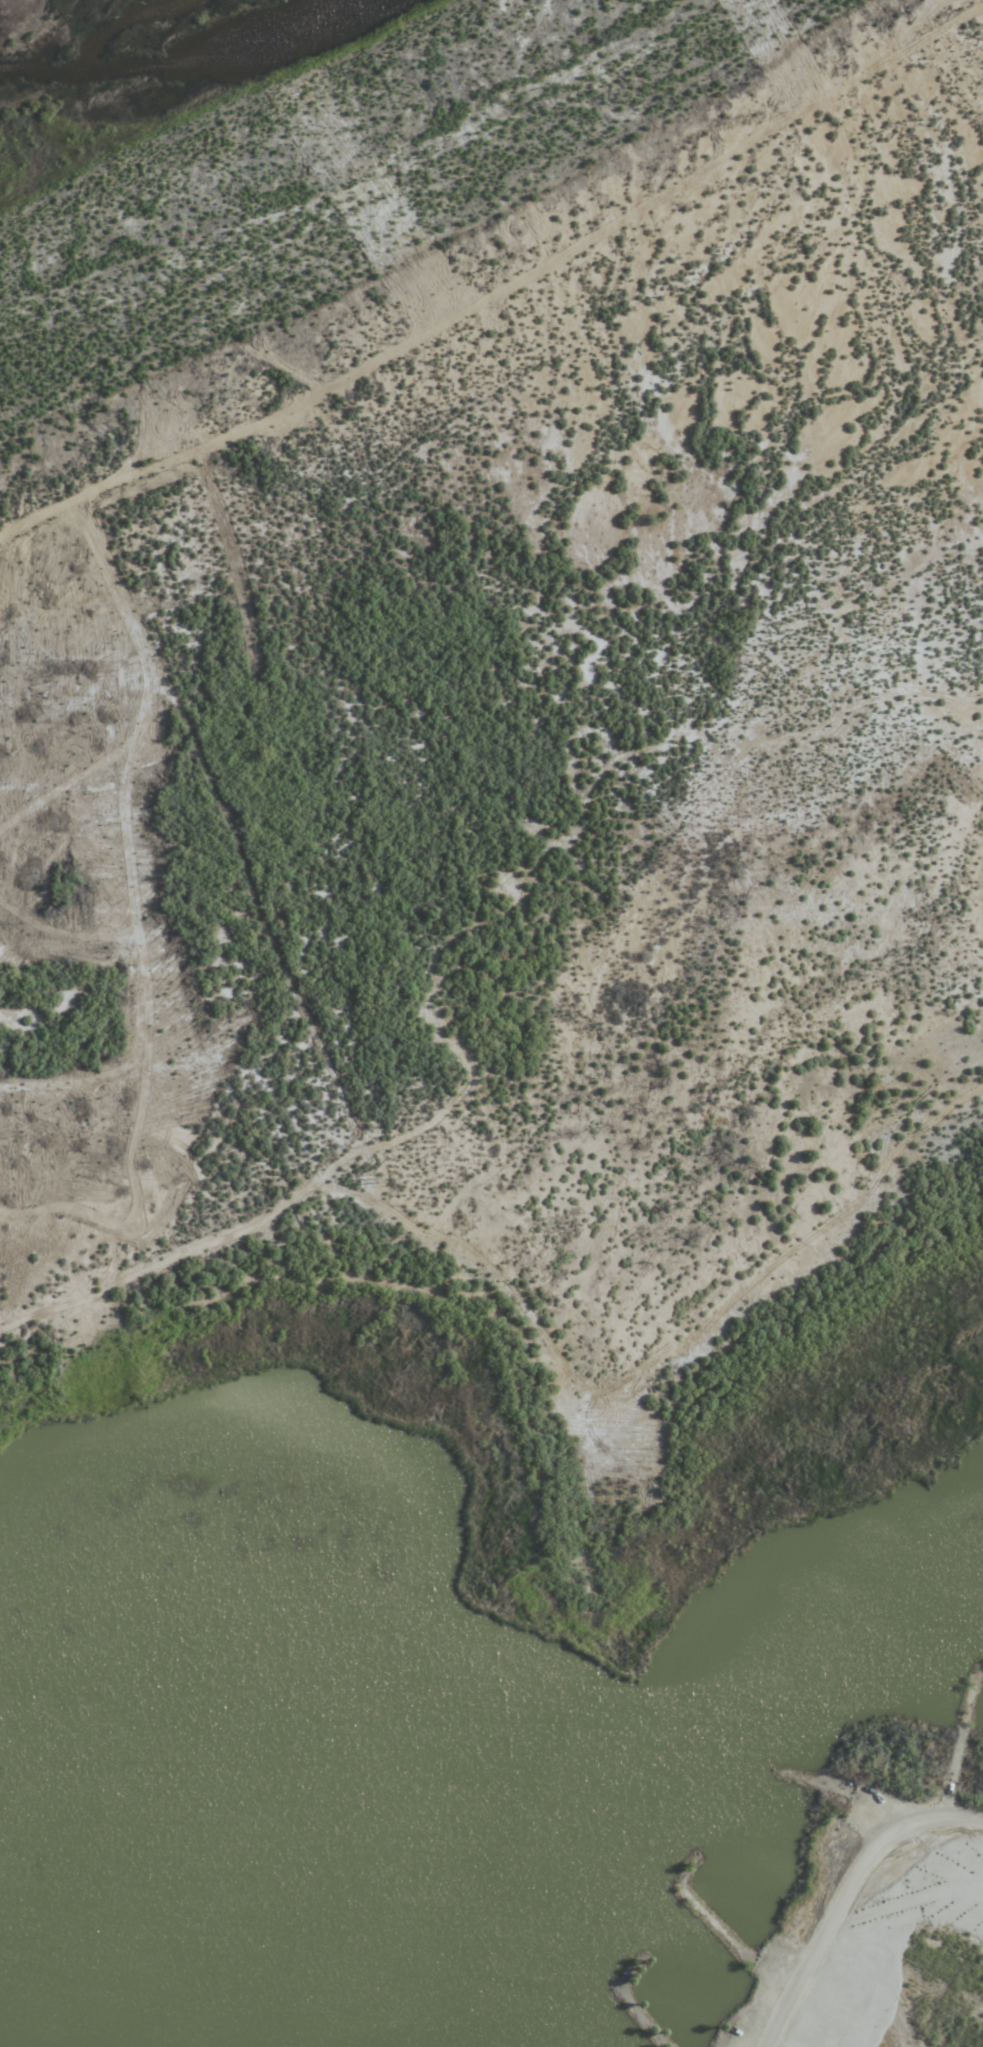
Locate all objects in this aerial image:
road: (844, 1895)

